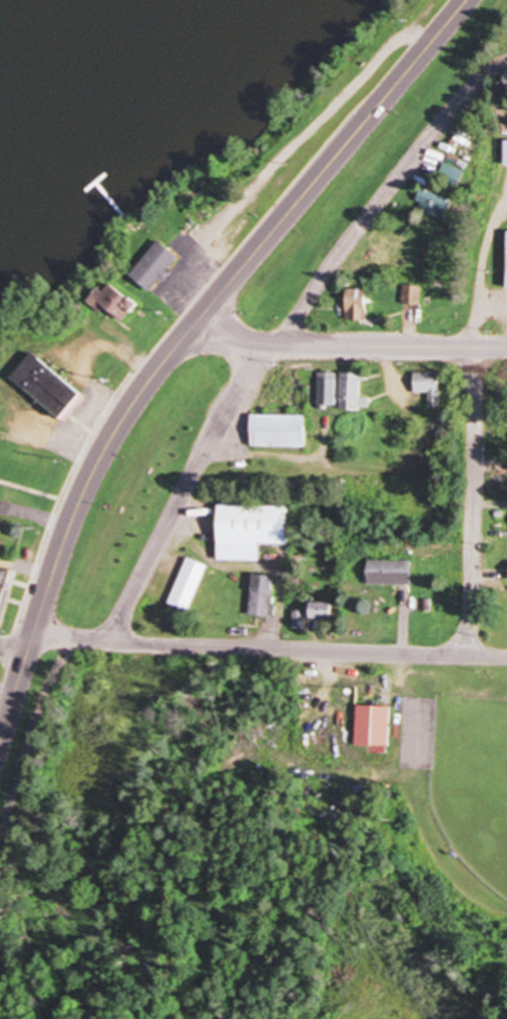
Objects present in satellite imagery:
building: (465, 139)
road: (333, 155)
building: (506, 155)
park: (257, 163)
building: (453, 175)
building: (435, 204)
building: (155, 264)
building: (413, 295)
building: (117, 301)
building: (358, 304)
road: (278, 331)
road: (349, 346)
building: (46, 383)
building: (429, 386)
building: (328, 389)
building: (352, 391)
road: (180, 419)
building: (279, 431)
road: (338, 462)
road: (477, 478)
building: (201, 503)
road: (73, 511)
building: (250, 531)
building: (391, 573)
building: (188, 585)
building: (3, 587)
building: (262, 596)
building: (321, 610)
road: (14, 642)
road: (270, 648)
building: (374, 726)
park: (472, 781)

